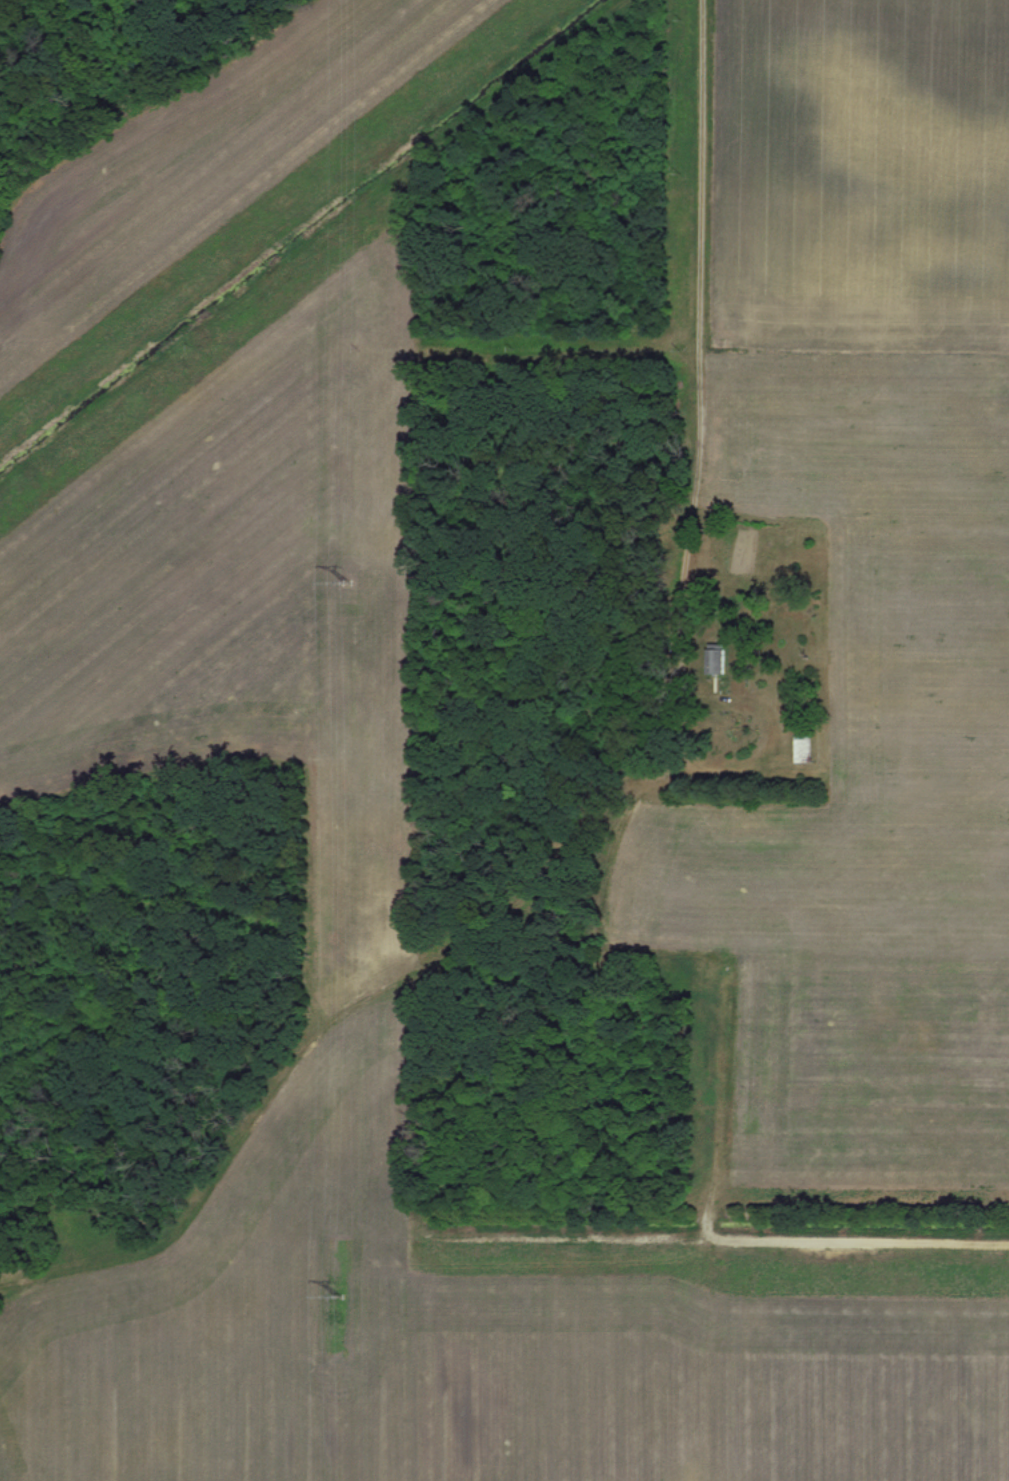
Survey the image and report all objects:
road: (695, 347)

